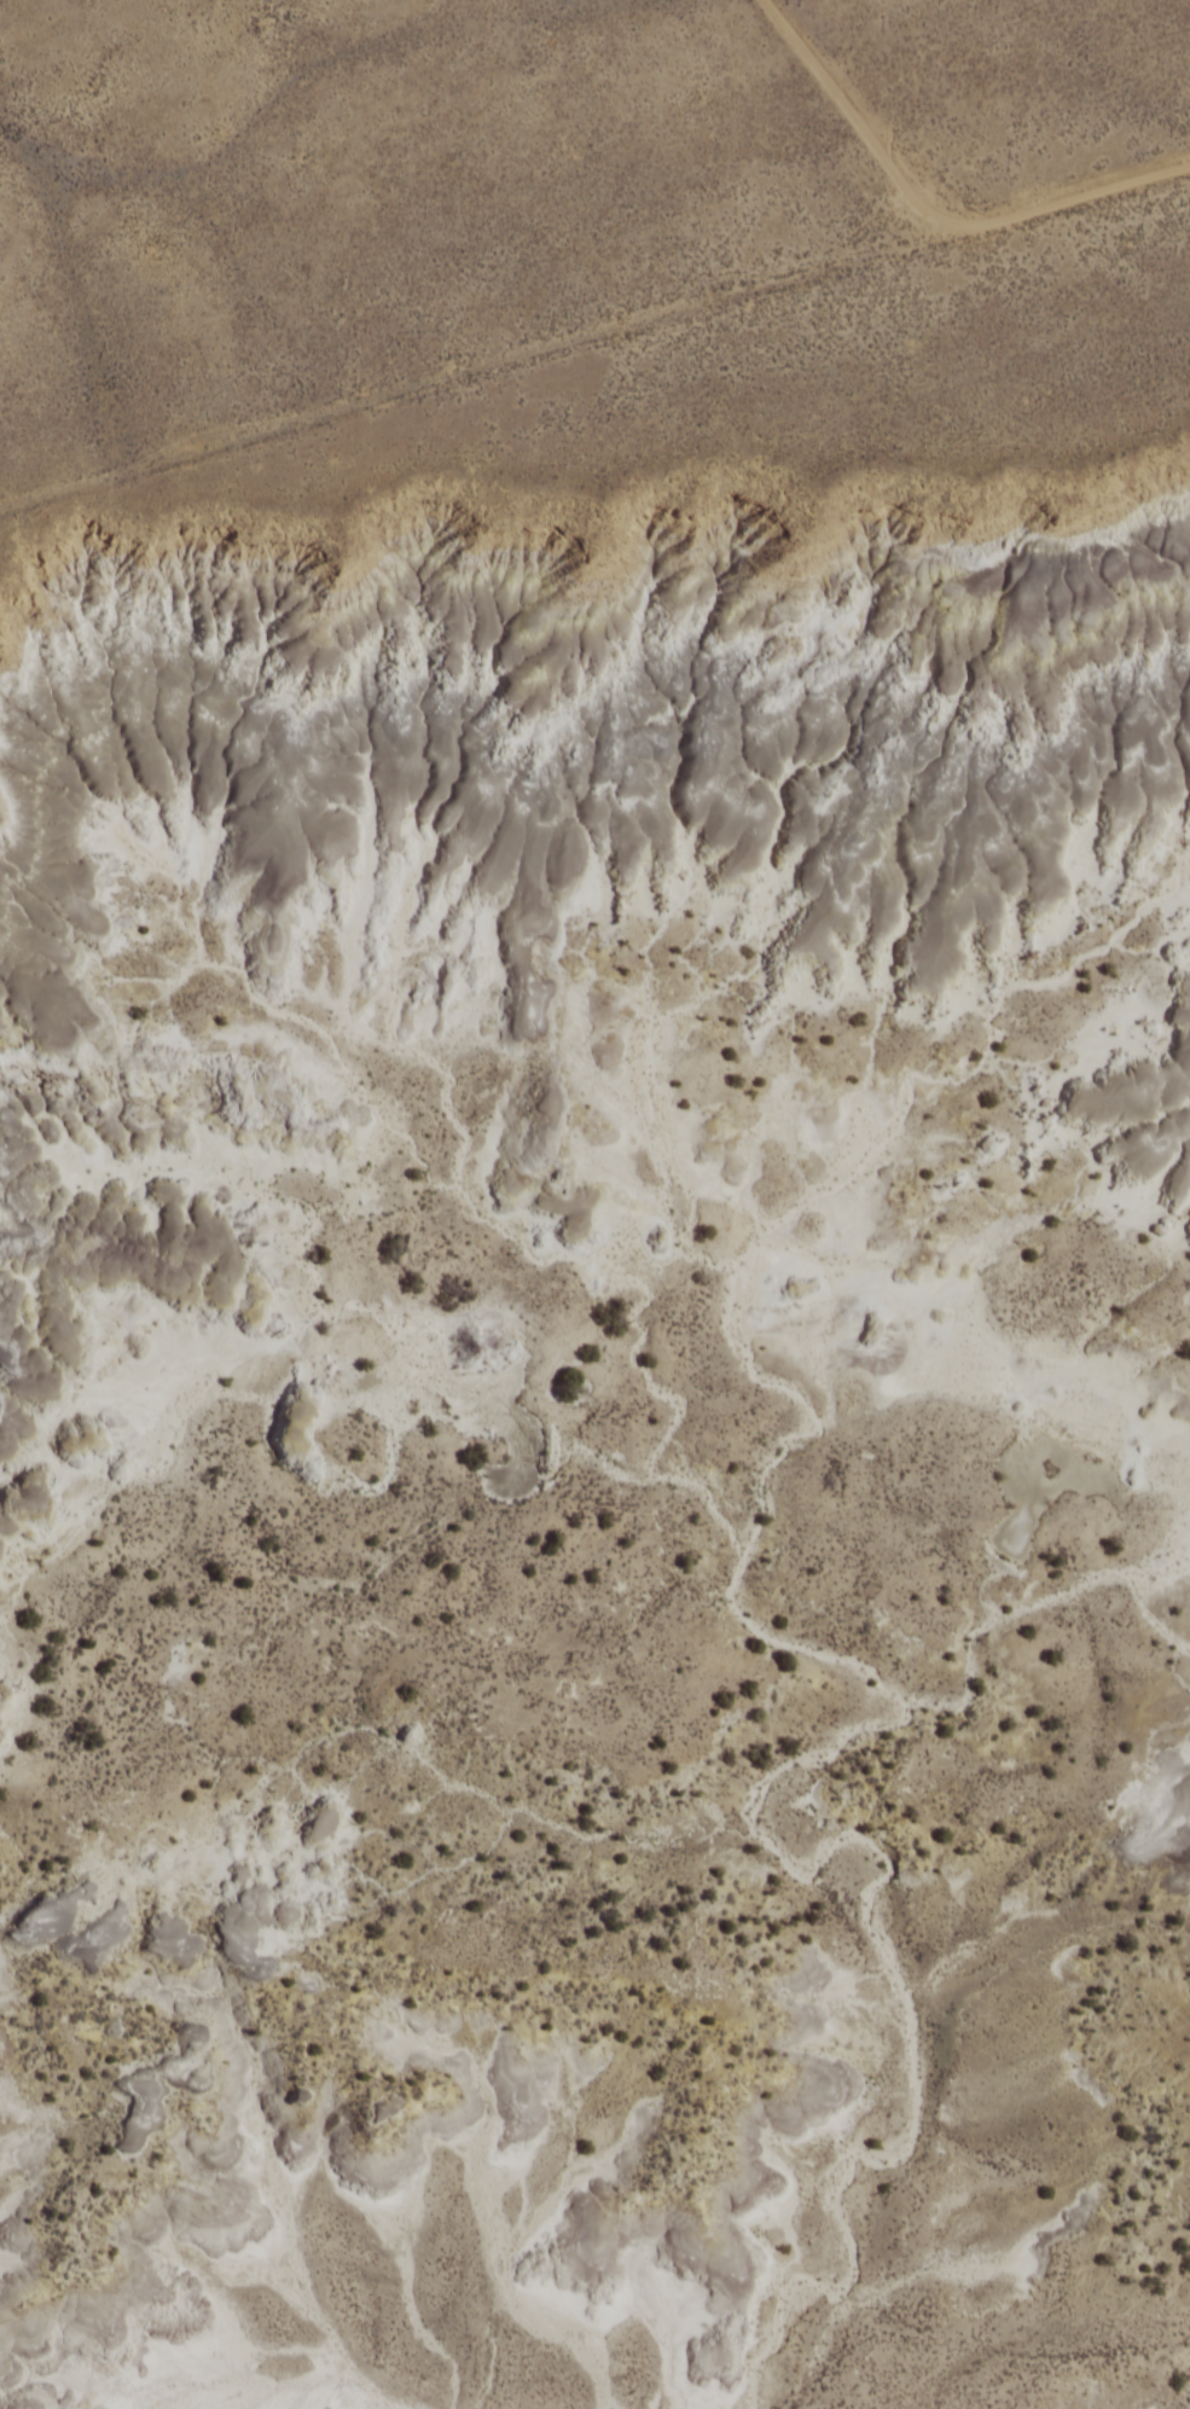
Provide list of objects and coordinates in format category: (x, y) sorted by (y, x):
road: (594, 284)

